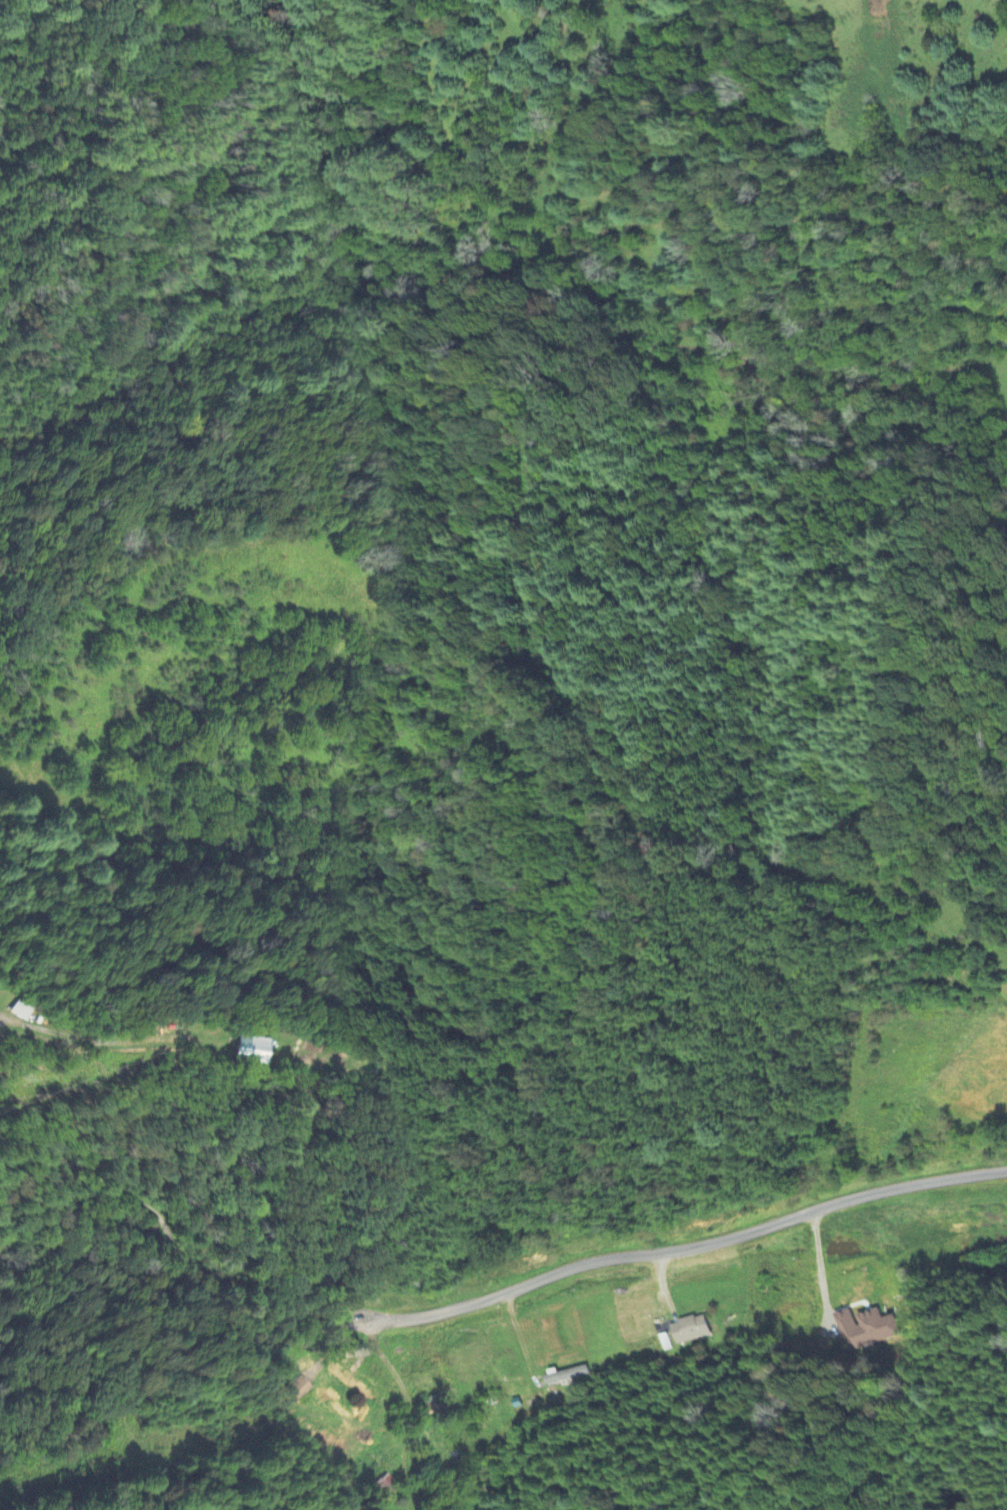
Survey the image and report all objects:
park: (1004, 976)
building: (20, 1011)
building: (253, 1052)
road: (587, 1259)
building: (867, 1328)
building: (692, 1330)
building: (567, 1375)
road: (414, 1414)

